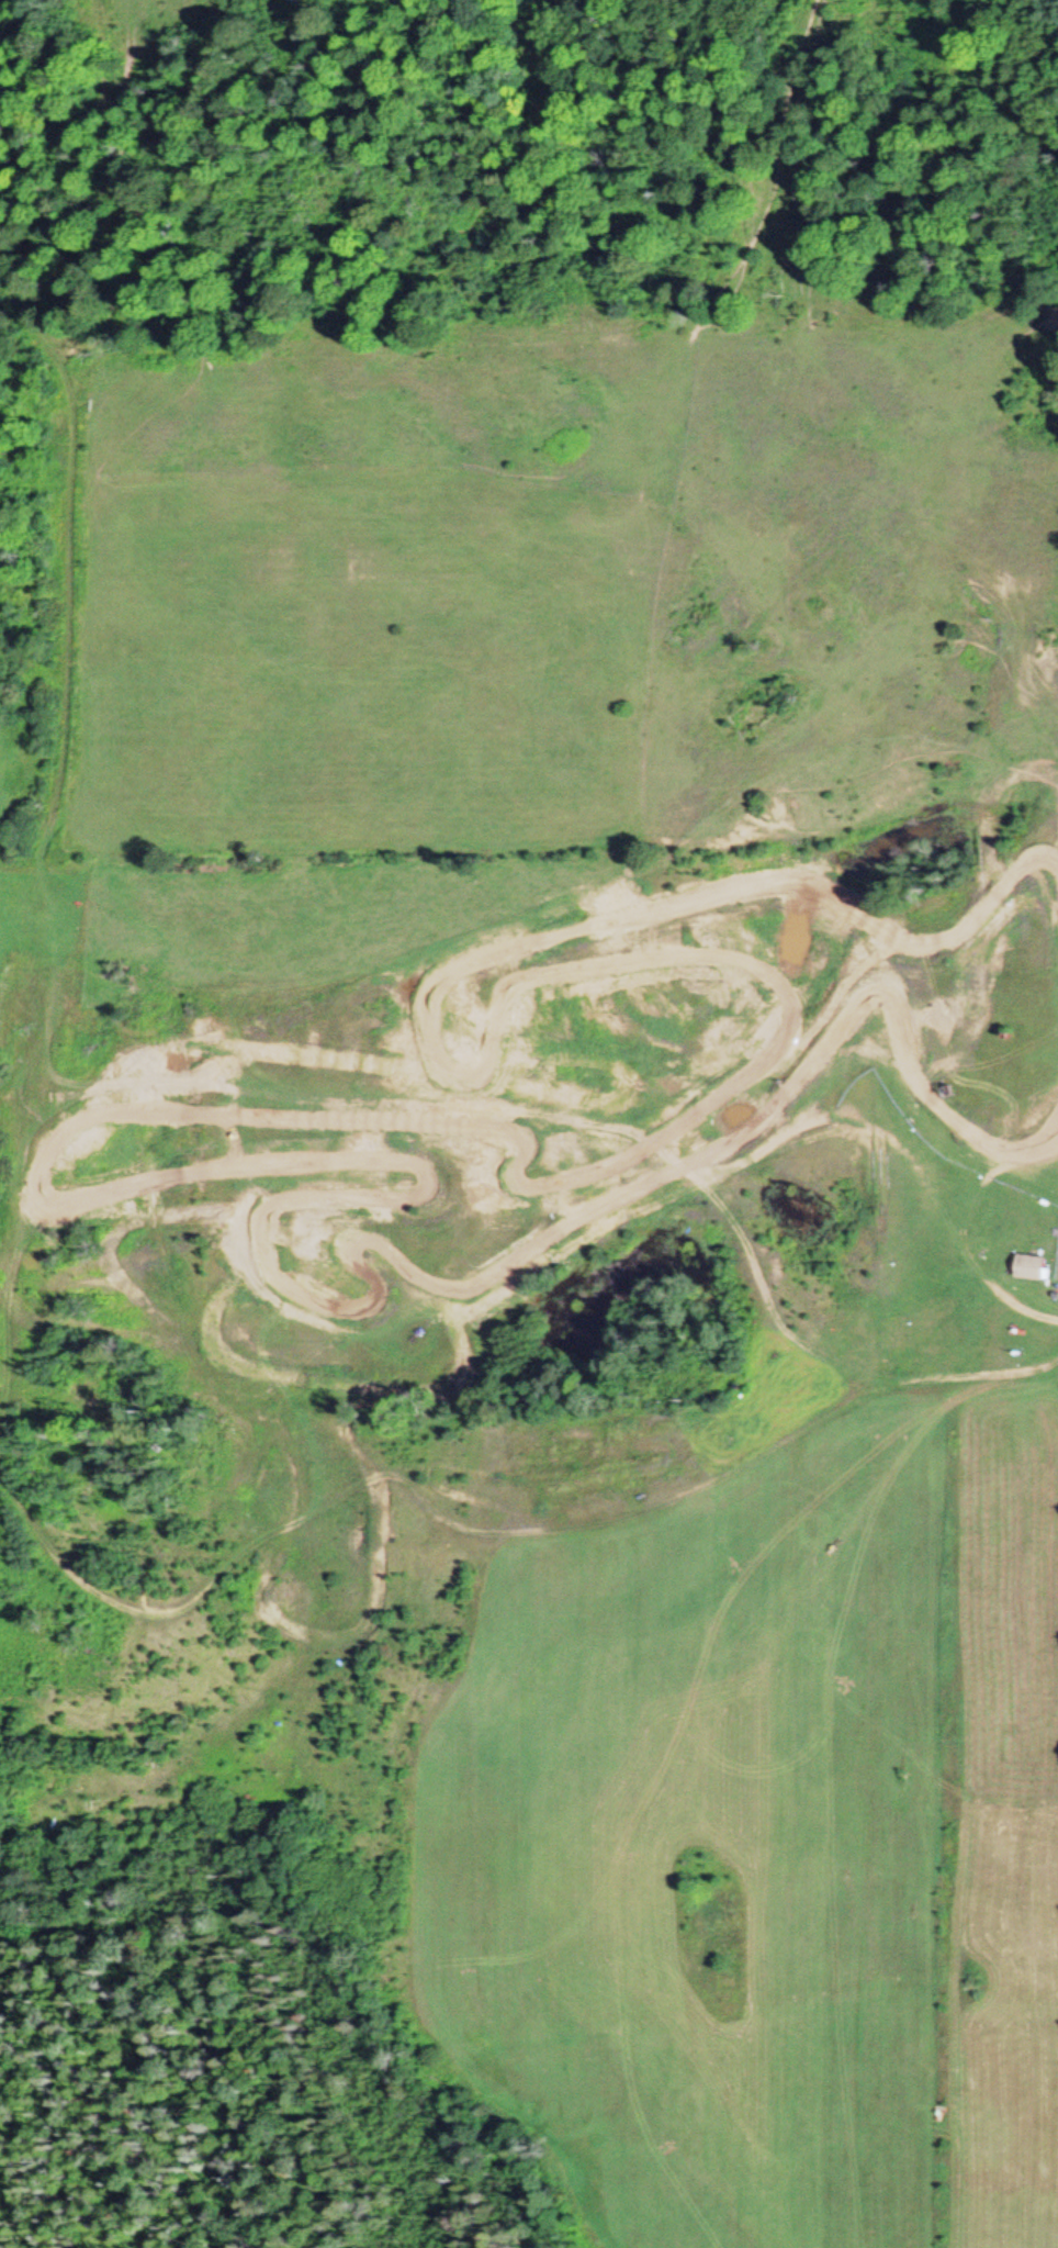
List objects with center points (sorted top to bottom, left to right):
building: (1028, 1267)

